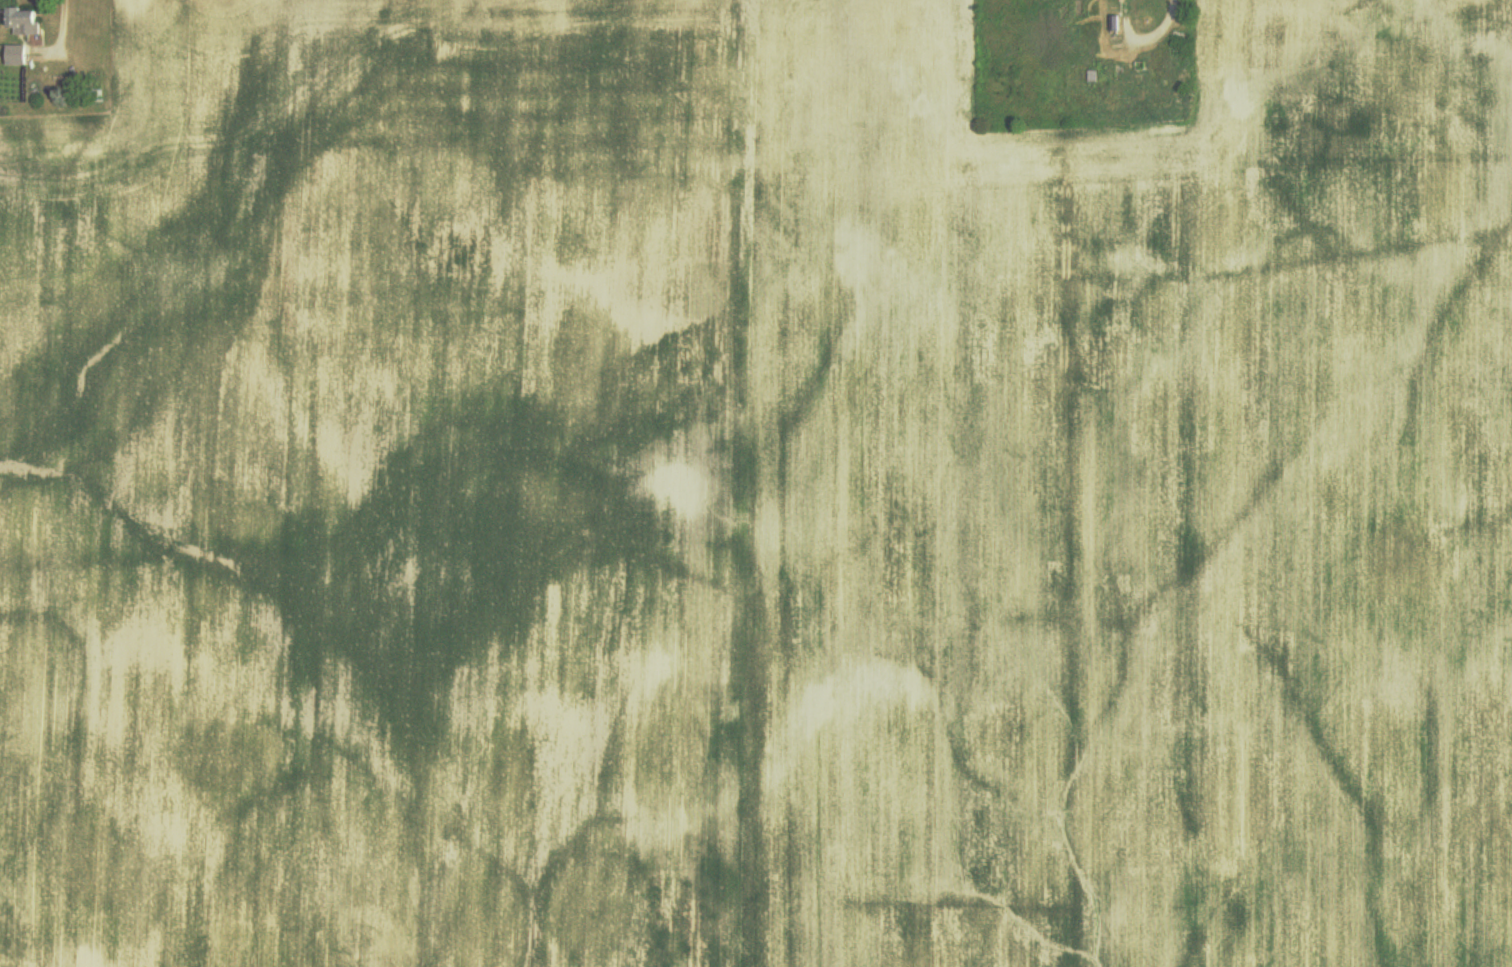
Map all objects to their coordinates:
building: (26, 24)
crop: (374, 491)
crop: (1126, 499)

